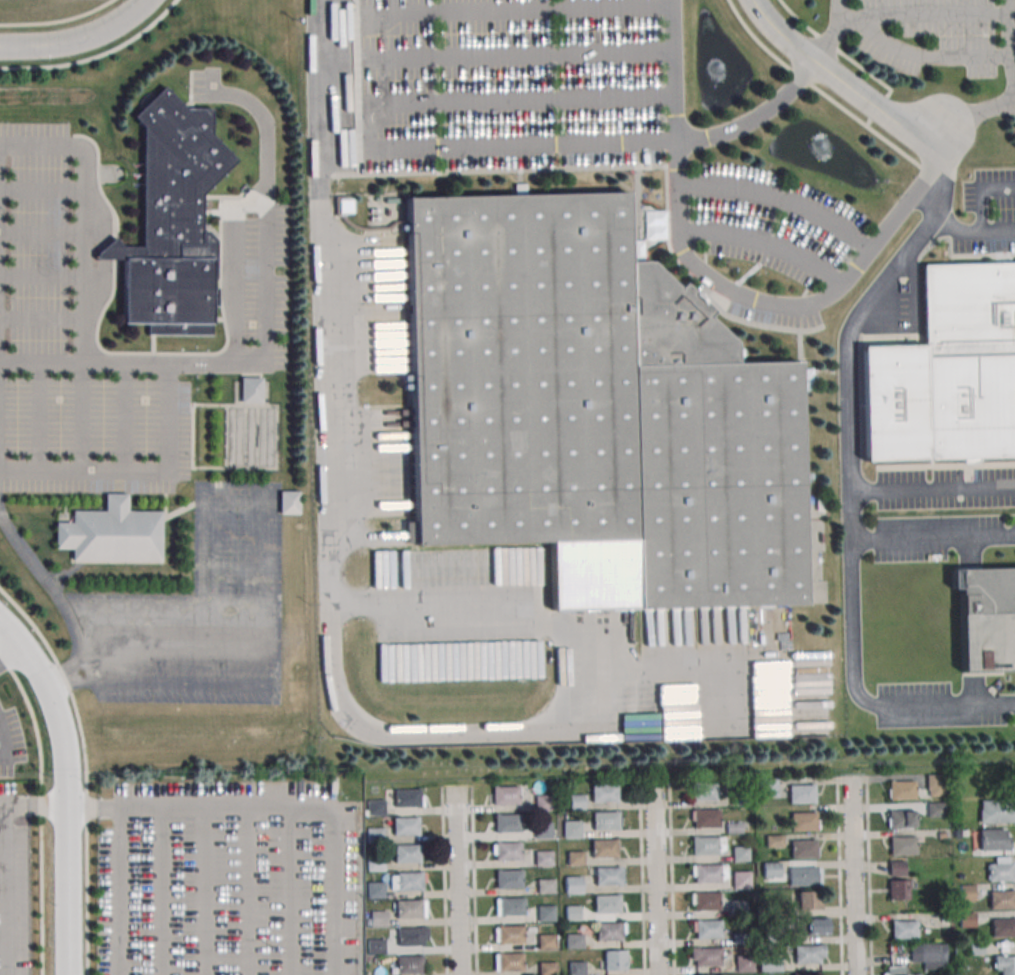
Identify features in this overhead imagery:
road: (542, 7)
road: (926, 13)
road: (59, 21)
road: (833, 32)
road: (78, 39)
road: (543, 53)
road: (921, 55)
road: (97, 56)
road: (790, 69)
road: (419, 73)
road: (836, 76)
road: (877, 81)
road: (1013, 94)
road: (545, 99)
road: (686, 139)
road: (495, 145)
road: (42, 189)
road: (778, 197)
road: (265, 209)
road: (981, 209)
building: (172, 223)
road: (955, 229)
road: (42, 231)
road: (764, 242)
road: (235, 266)
road: (42, 276)
road: (83, 306)
road: (793, 307)
road: (41, 317)
road: (848, 342)
road: (324, 353)
road: (132, 363)
building: (947, 371)
building: (251, 389)
building: (592, 402)
road: (37, 416)
road: (102, 469)
road: (145, 470)
road: (932, 484)
road: (236, 486)
building: (111, 533)
road: (933, 534)
building: (987, 619)
road: (273, 634)
road: (75, 637)
road: (176, 645)
road: (11, 650)
road: (65, 679)
road: (625, 683)
road: (859, 695)
road: (6, 742)
road: (85, 769)
building: (935, 785)
road: (67, 788)
building: (769, 788)
building: (901, 789)
building: (703, 791)
building: (604, 793)
building: (801, 793)
building: (505, 794)
building: (407, 797)
building: (739, 800)
building: (543, 802)
building: (577, 802)
road: (298, 807)
building: (375, 807)
road: (82, 808)
building: (937, 810)
building: (997, 811)
building: (703, 818)
building: (901, 818)
building: (605, 820)
building: (804, 820)
building: (507, 822)
building: (405, 825)
building: (571, 828)
building: (734, 828)
building: (542, 829)
building: (958, 833)
building: (943, 834)
building: (376, 836)
building: (994, 839)
building: (775, 841)
building: (707, 845)
building: (902, 845)
road: (1, 848)
building: (603, 848)
building: (803, 848)
building: (507, 851)
building: (407, 853)
building: (740, 853)
building: (542, 858)
building: (574, 858)
building: (375, 863)
building: (898, 868)
building: (771, 869)
building: (1000, 869)
building: (708, 872)
building: (607, 876)
building: (803, 876)
road: (839, 876)
road: (854, 876)
road: (869, 876)
building: (960, 876)
road: (671, 878)
building: (508, 879)
road: (642, 879)
road: (655, 879)
building: (740, 879)
building: (406, 881)
road: (444, 881)
road: (474, 881)
road: (456, 882)
building: (545, 885)
building: (573, 885)
building: (898, 889)
road: (1, 890)
road: (3, 890)
building: (375, 890)
road: (118, 891)
road: (160, 891)
road: (204, 891)
road: (247, 891)
road: (288, 891)
parking lot: (13, 892)
building: (967, 892)
building: (1002, 899)
building: (809, 900)
building: (704, 901)
building: (606, 904)
building: (509, 906)
building: (410, 908)
building: (771, 908)
building: (738, 909)
building: (571, 912)
building: (545, 913)
building: (946, 917)
building: (378, 918)
building: (968, 920)
building: (1003, 927)
building: (706, 928)
building: (814, 928)
building: (905, 929)
building: (609, 931)
building: (508, 933)
road: (2, 935)
building: (773, 935)
building: (412, 936)
building: (741, 939)
building: (573, 940)
building: (545, 941)
building: (374, 947)
building: (977, 947)
building: (809, 954)
building: (929, 955)
building: (705, 956)
building: (614, 959)
building: (508, 961)
building: (744, 962)
building: (409, 963)
building: (769, 963)
building: (1005, 964)
building: (546, 968)
building: (576, 968)
building: (895, 970)
building: (805, 973)
building: (917, 974)

